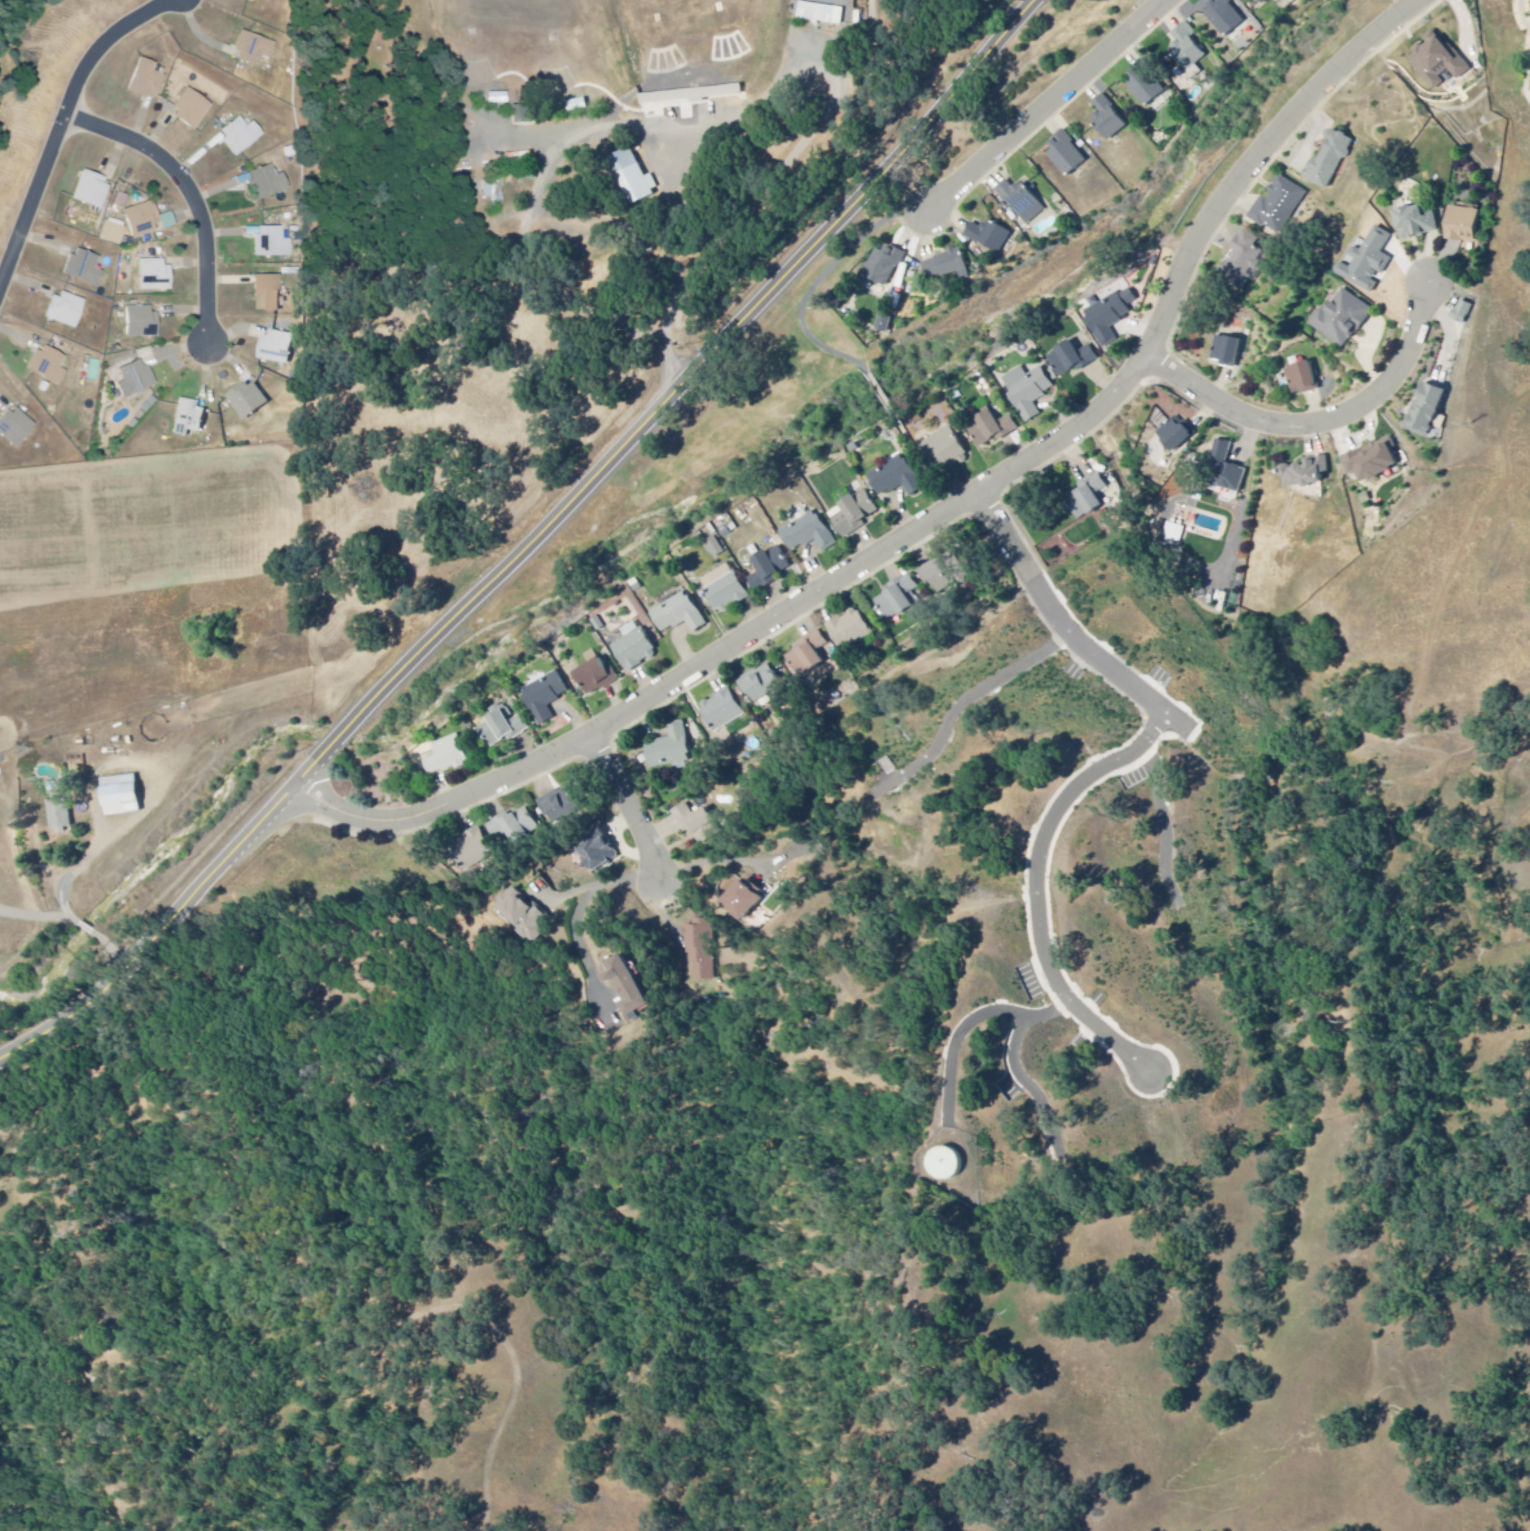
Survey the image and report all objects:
building: (1292, 1)
building: (1263, 2)
building: (820, 14)
building: (1223, 16)
building: (250, 50)
building: (1185, 52)
building: (1435, 61)
building: (143, 80)
building: (1143, 86)
building: (494, 99)
road: (1047, 107)
building: (187, 110)
building: (1106, 120)
road: (61, 132)
building: (237, 136)
road: (809, 143)
building: (1065, 154)
building: (1328, 160)
building: (631, 177)
building: (264, 183)
building: (89, 192)
road: (194, 199)
building: (119, 201)
building: (1020, 202)
building: (1277, 206)
building: (139, 221)
building: (164, 222)
building: (1415, 223)
road: (559, 225)
building: (1461, 225)
building: (110, 233)
building: (988, 236)
building: (267, 243)
building: (1240, 261)
building: (1367, 263)
building: (883, 266)
building: (946, 266)
building: (81, 269)
building: (150, 276)
building: (266, 293)
building: (62, 311)
building: (1461, 312)
building: (1109, 317)
building: (1341, 319)
building: (138, 323)
building: (883, 324)
building: (275, 348)
building: (1225, 352)
building: (1069, 360)
building: (44, 366)
building: (1301, 379)
building: (132, 380)
building: (1027, 392)
building: (246, 400)
building: (1425, 410)
building: (186, 419)
road: (1321, 425)
building: (14, 428)
building: (990, 428)
building: (1175, 436)
building: (944, 451)
building: (1370, 461)
building: (1225, 469)
building: (1304, 473)
building: (894, 479)
building: (1086, 497)
building: (851, 515)
road: (935, 523)
building: (807, 534)
road: (532, 541)
building: (714, 548)
building: (767, 569)
building: (943, 575)
building: (723, 590)
building: (677, 615)
building: (848, 630)
road: (1065, 630)
building: (632, 648)
building: (807, 658)
building: (595, 678)
building: (759, 686)
building: (544, 697)
building: (721, 711)
building: (497, 729)
building: (669, 749)
building: (444, 757)
building: (118, 796)
building: (559, 806)
road: (633, 814)
building: (58, 819)
building: (692, 820)
building: (514, 826)
road: (1167, 826)
building: (470, 851)
building: (595, 853)
road: (714, 860)
road: (1034, 890)
building: (520, 916)
building: (701, 948)
building: (624, 989)
road: (968, 1026)
road: (1030, 1086)
building: (941, 1166)

